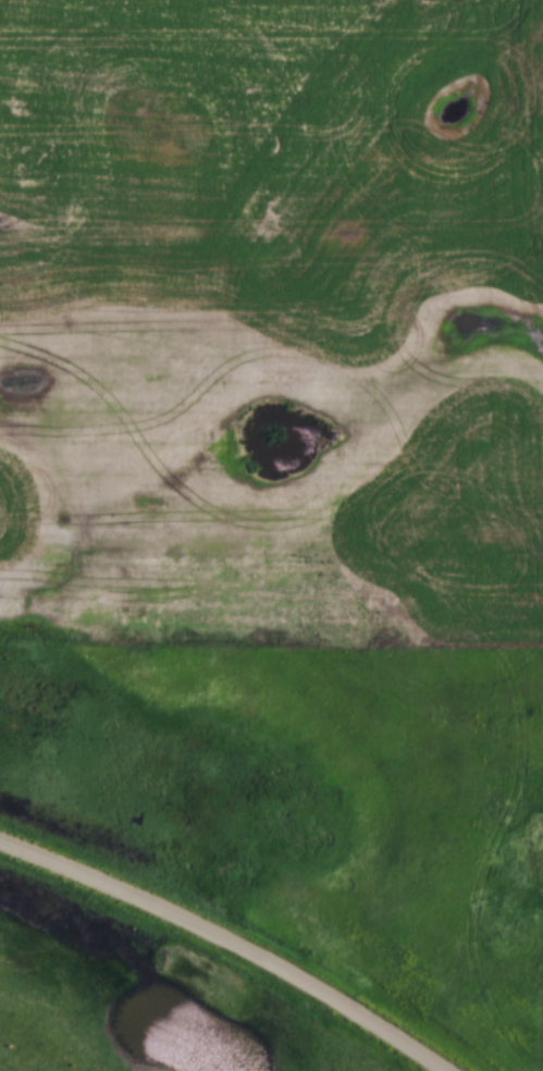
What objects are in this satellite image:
road: (229, 941)

